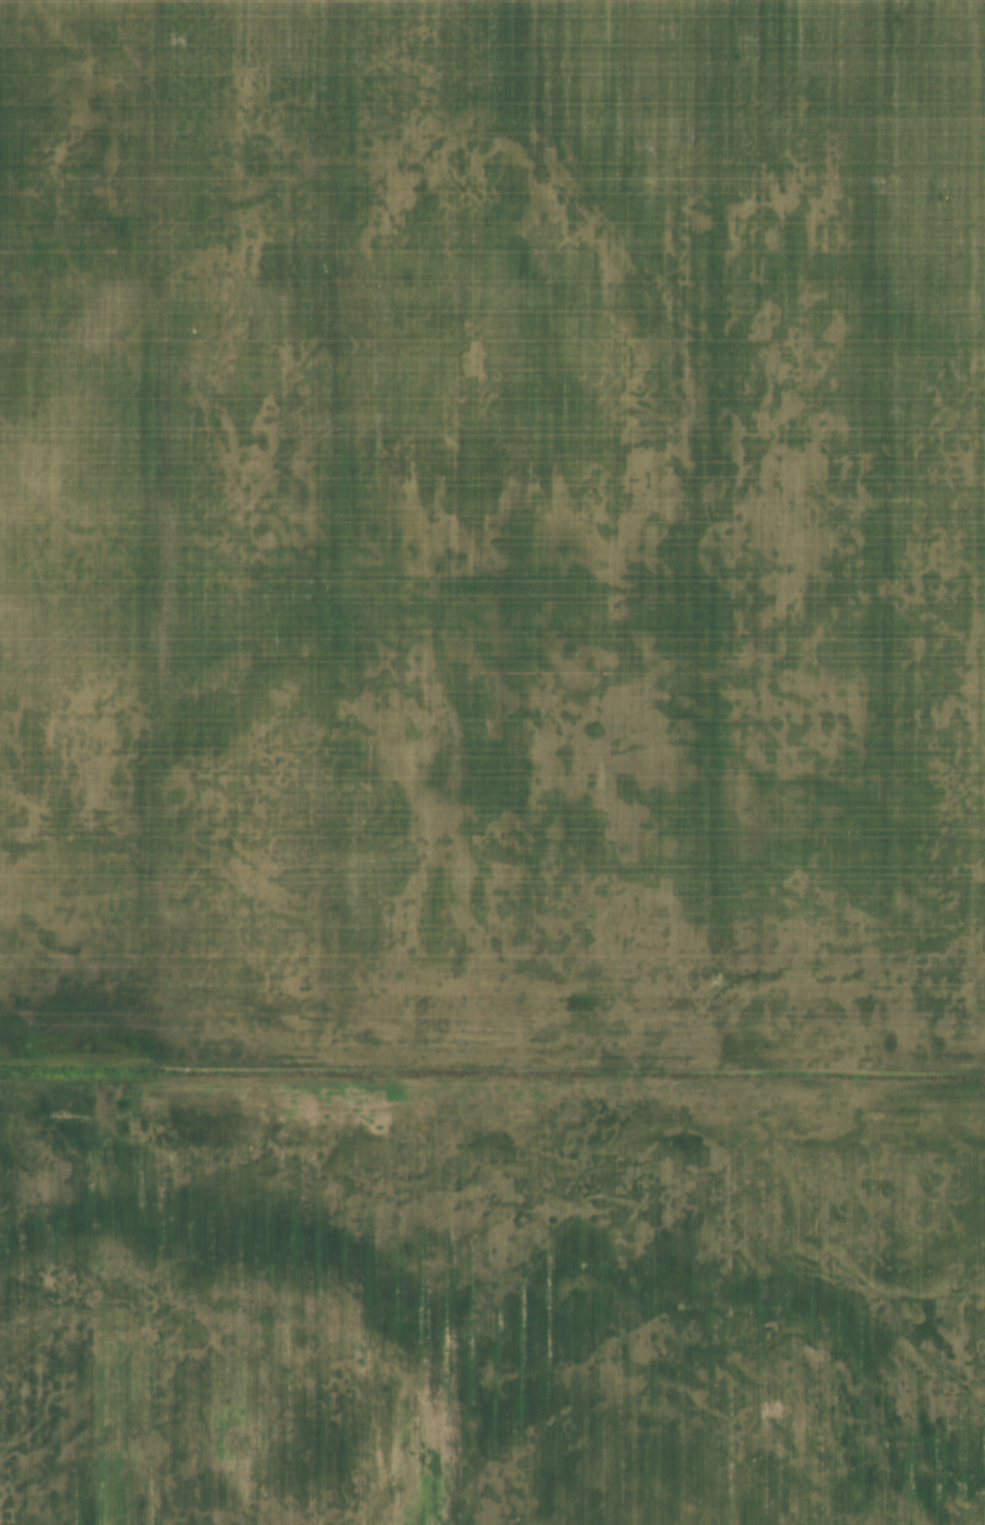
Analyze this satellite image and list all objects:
road: (492, 1063)

